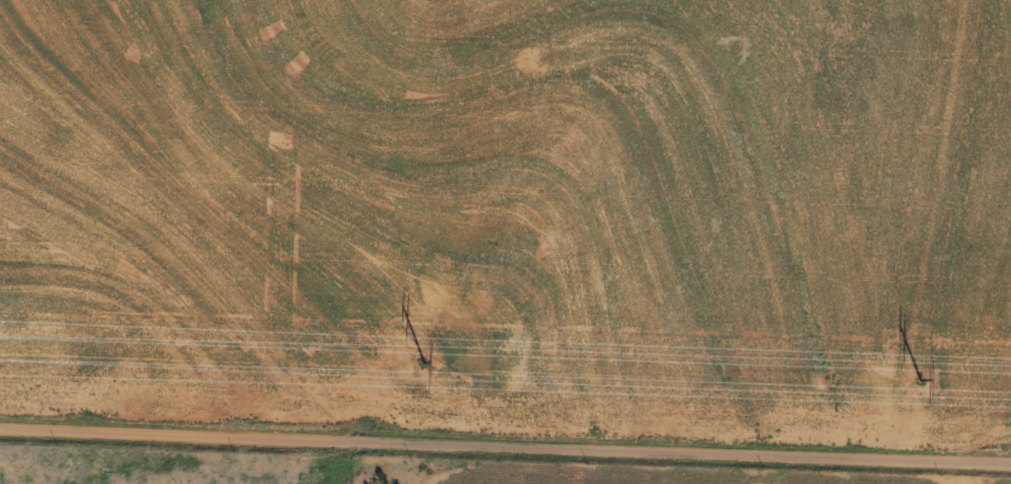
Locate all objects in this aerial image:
power tower: (426, 360)
power tower: (922, 378)
road: (505, 447)

